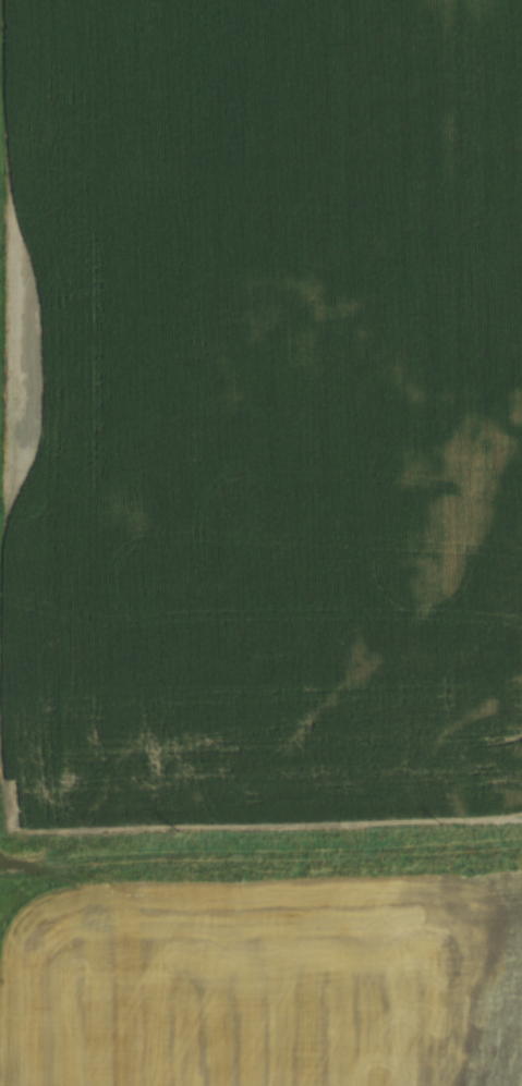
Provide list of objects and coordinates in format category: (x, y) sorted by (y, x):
road: (260, 842)

